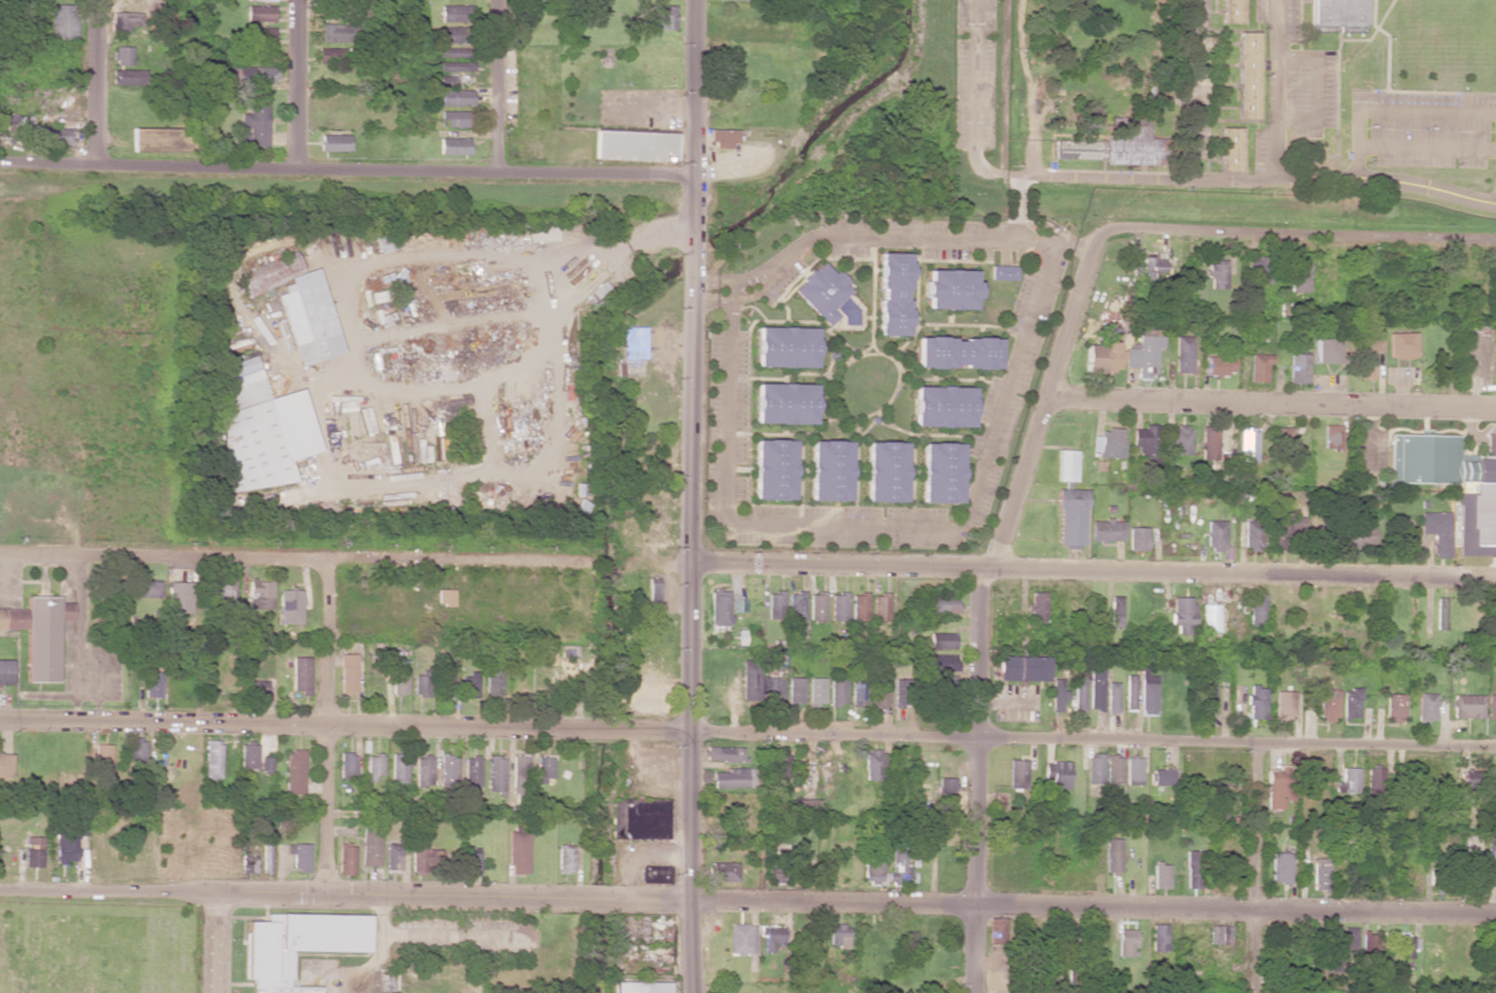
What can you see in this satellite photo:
building: (261, 0)
building: (744, 0)
building: (1232, 11)
building: (1338, 12)
building: (259, 13)
building: (453, 13)
building: (661, 16)
building: (64, 21)
building: (124, 21)
building: (337, 33)
building: (452, 34)
building: (264, 40)
building: (452, 52)
building: (123, 55)
building: (331, 56)
building: (455, 66)
parking lot: (974, 74)
building: (260, 75)
building: (1249, 76)
building: (128, 77)
parking lot: (1199, 79)
building: (448, 80)
road: (95, 82)
parking lot: (1293, 83)
road: (296, 84)
road: (498, 85)
road: (1277, 89)
road: (1182, 90)
road: (1317, 90)
building: (456, 97)
road: (1394, 111)
building: (456, 119)
building: (256, 121)
building: (14, 127)
river: (819, 127)
parking lot: (1423, 128)
building: (58, 136)
building: (722, 138)
building: (162, 140)
building: (334, 142)
building: (453, 146)
building: (634, 146)
building: (1120, 146)
road: (1426, 147)
building: (1231, 148)
road: (346, 169)
road: (1054, 175)
road: (1399, 181)
building: (541, 233)
road: (1300, 235)
building: (447, 239)
building: (385, 242)
river: (692, 256)
building: (1257, 270)
building: (1002, 272)
building: (271, 274)
building: (1217, 275)
building: (1298, 276)
road: (693, 281)
building: (948, 289)
building: (821, 291)
building: (594, 292)
building: (890, 294)
building: (308, 318)
building: (633, 342)
building: (1400, 345)
building: (783, 347)
building: (1494, 348)
building: (1326, 349)
building: (1093, 351)
building: (955, 352)
building: (1183, 354)
building: (1144, 356)
building: (1367, 356)
building: (1220, 363)
building: (1260, 367)
building: (1298, 368)
building: (782, 403)
road: (1272, 403)
building: (941, 406)
building: (260, 428)
building: (1332, 436)
building: (1181, 439)
road: (989, 443)
building: (1108, 443)
building: (1209, 443)
building: (1247, 444)
building: (1287, 444)
building: (1144, 445)
building: (1435, 461)
building: (1066, 465)
river: (607, 469)
building: (771, 469)
building: (827, 470)
building: (883, 471)
building: (939, 472)
building: (649, 492)
building: (1071, 518)
building: (651, 528)
building: (1288, 529)
building: (1107, 531)
building: (1436, 531)
building: (1216, 535)
building: (1253, 536)
building: (1360, 536)
building: (1138, 538)
road: (293, 556)
road: (1093, 572)
building: (147, 589)
building: (652, 591)
building: (226, 592)
building: (102, 594)
building: (259, 594)
building: (178, 597)
building: (445, 597)
road: (976, 598)
building: (943, 604)
building: (738, 605)
building: (775, 605)
building: (290, 606)
building: (796, 606)
building: (817, 606)
building: (838, 606)
building: (719, 607)
building: (859, 607)
building: (880, 607)
building: (1038, 607)
building: (1258, 610)
building: (1116, 612)
building: (1183, 614)
building: (1440, 614)
building: (1494, 616)
building: (1211, 617)
building: (38, 634)
building: (942, 640)
building: (941, 662)
building: (1022, 668)
building: (5, 672)
building: (347, 673)
building: (300, 674)
building: (399, 680)
building: (749, 680)
building: (152, 683)
building: (445, 683)
building: (468, 684)
building: (492, 684)
building: (420, 686)
building: (255, 687)
building: (565, 689)
building: (772, 689)
building: (1096, 689)
building: (794, 690)
building: (869, 690)
building: (650, 691)
building: (816, 691)
building: (837, 691)
building: (1130, 692)
building: (900, 693)
building: (1078, 694)
building: (1148, 694)
building: (1058, 695)
building: (1112, 697)
building: (1208, 700)
building: (1257, 702)
building: (1285, 703)
building: (1351, 703)
building: (1329, 704)
building: (1468, 706)
building: (1491, 706)
building: (1426, 707)
building: (647, 708)
building: (1396, 708)
road: (325, 725)
river: (600, 728)
road: (748, 731)
building: (137, 750)
building: (724, 754)
building: (248, 756)
building: (212, 759)
building: (102, 760)
building: (780, 760)
building: (5, 764)
building: (346, 764)
building: (267, 765)
building: (873, 765)
building: (373, 767)
building: (398, 768)
building: (542, 768)
building: (1094, 768)
building: (446, 769)
building: (1114, 770)
building: (295, 771)
building: (422, 771)
building: (470, 771)
building: (1134, 771)
building: (494, 773)
building: (517, 774)
building: (1018, 774)
building: (1056, 774)
building: (1162, 776)
road: (688, 778)
building: (733, 778)
building: (1376, 779)
building: (1473, 780)
building: (1345, 781)
building: (945, 787)
building: (1280, 787)
river: (598, 813)
building: (638, 819)
building: (370, 845)
building: (65, 850)
building: (33, 851)
building: (517, 852)
building: (422, 854)
building: (1113, 855)
building: (299, 856)
building: (392, 856)
building: (266, 859)
building: (346, 859)
building: (564, 859)
building: (1491, 860)
building: (899, 861)
building: (471, 863)
building: (249, 864)
building: (871, 864)
road: (1255, 866)
building: (1281, 868)
building: (1194, 869)
building: (722, 872)
building: (776, 872)
building: (653, 874)
building: (1320, 874)
building: (1161, 875)
river: (596, 899)
road: (747, 901)
building: (997, 931)
building: (1221, 935)
building: (770, 936)
building: (838, 936)
building: (1065, 937)
building: (1159, 938)
building: (1349, 938)
building: (742, 939)
building: (1126, 942)
road: (217, 944)
building: (296, 946)
building: (1369, 946)
building: (1406, 946)
river: (591, 953)
building: (1334, 957)
building: (640, 987)

